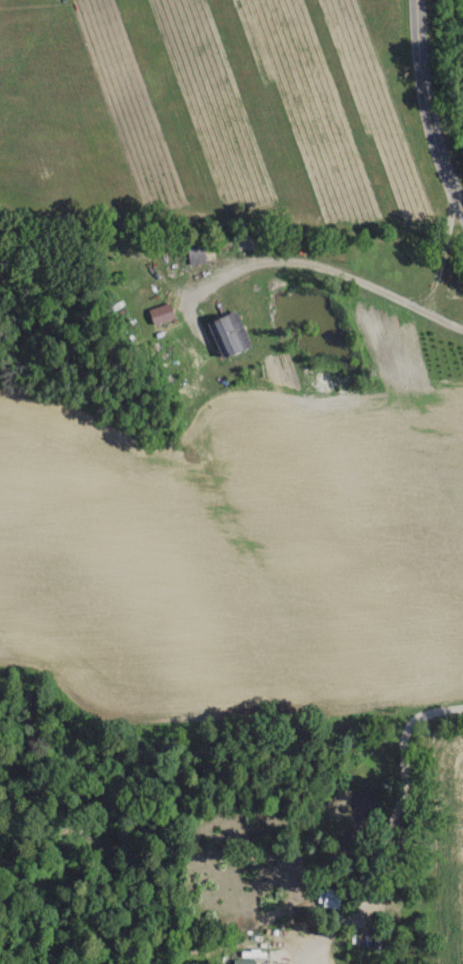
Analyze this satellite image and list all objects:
road: (427, 108)
building: (195, 253)
road: (326, 267)
building: (227, 333)
road: (390, 831)
building: (248, 928)

